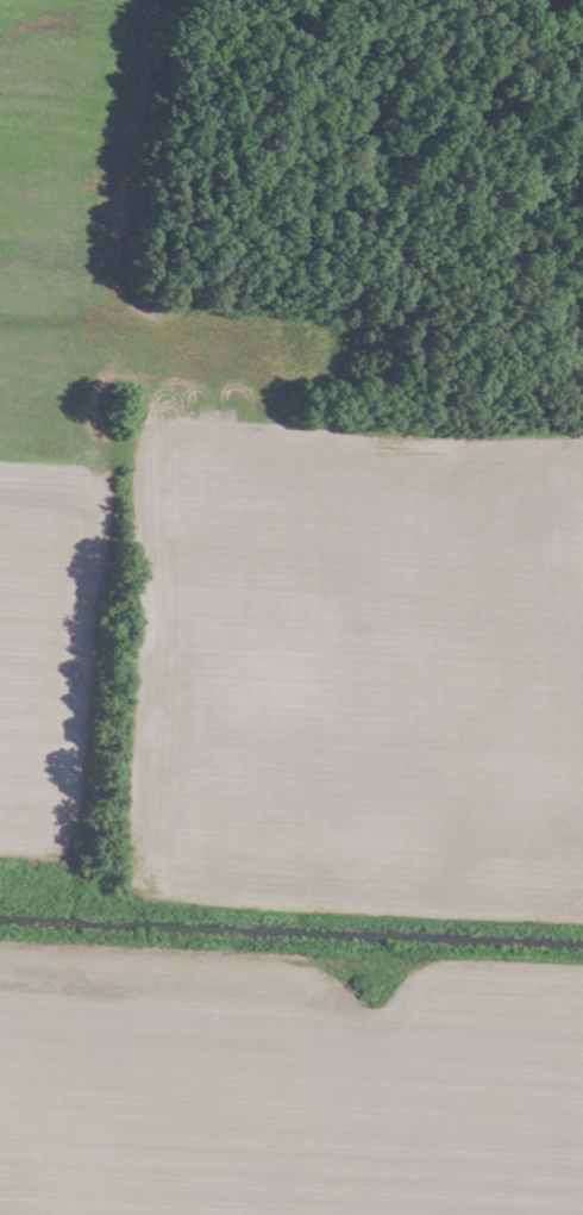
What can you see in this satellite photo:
road: (290, 959)

